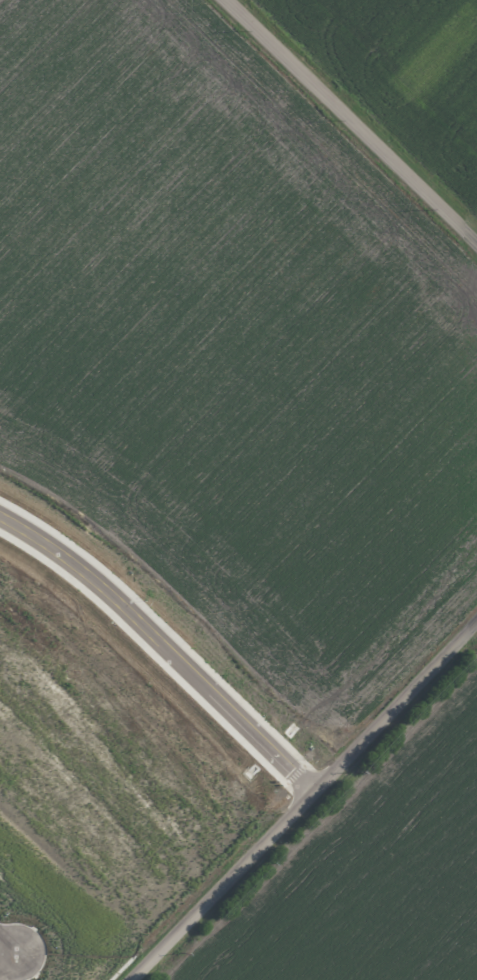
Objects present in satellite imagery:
building: (0, 35)
road: (354, 118)
road: (164, 654)
road: (310, 807)
road: (8, 944)
road: (8, 960)

